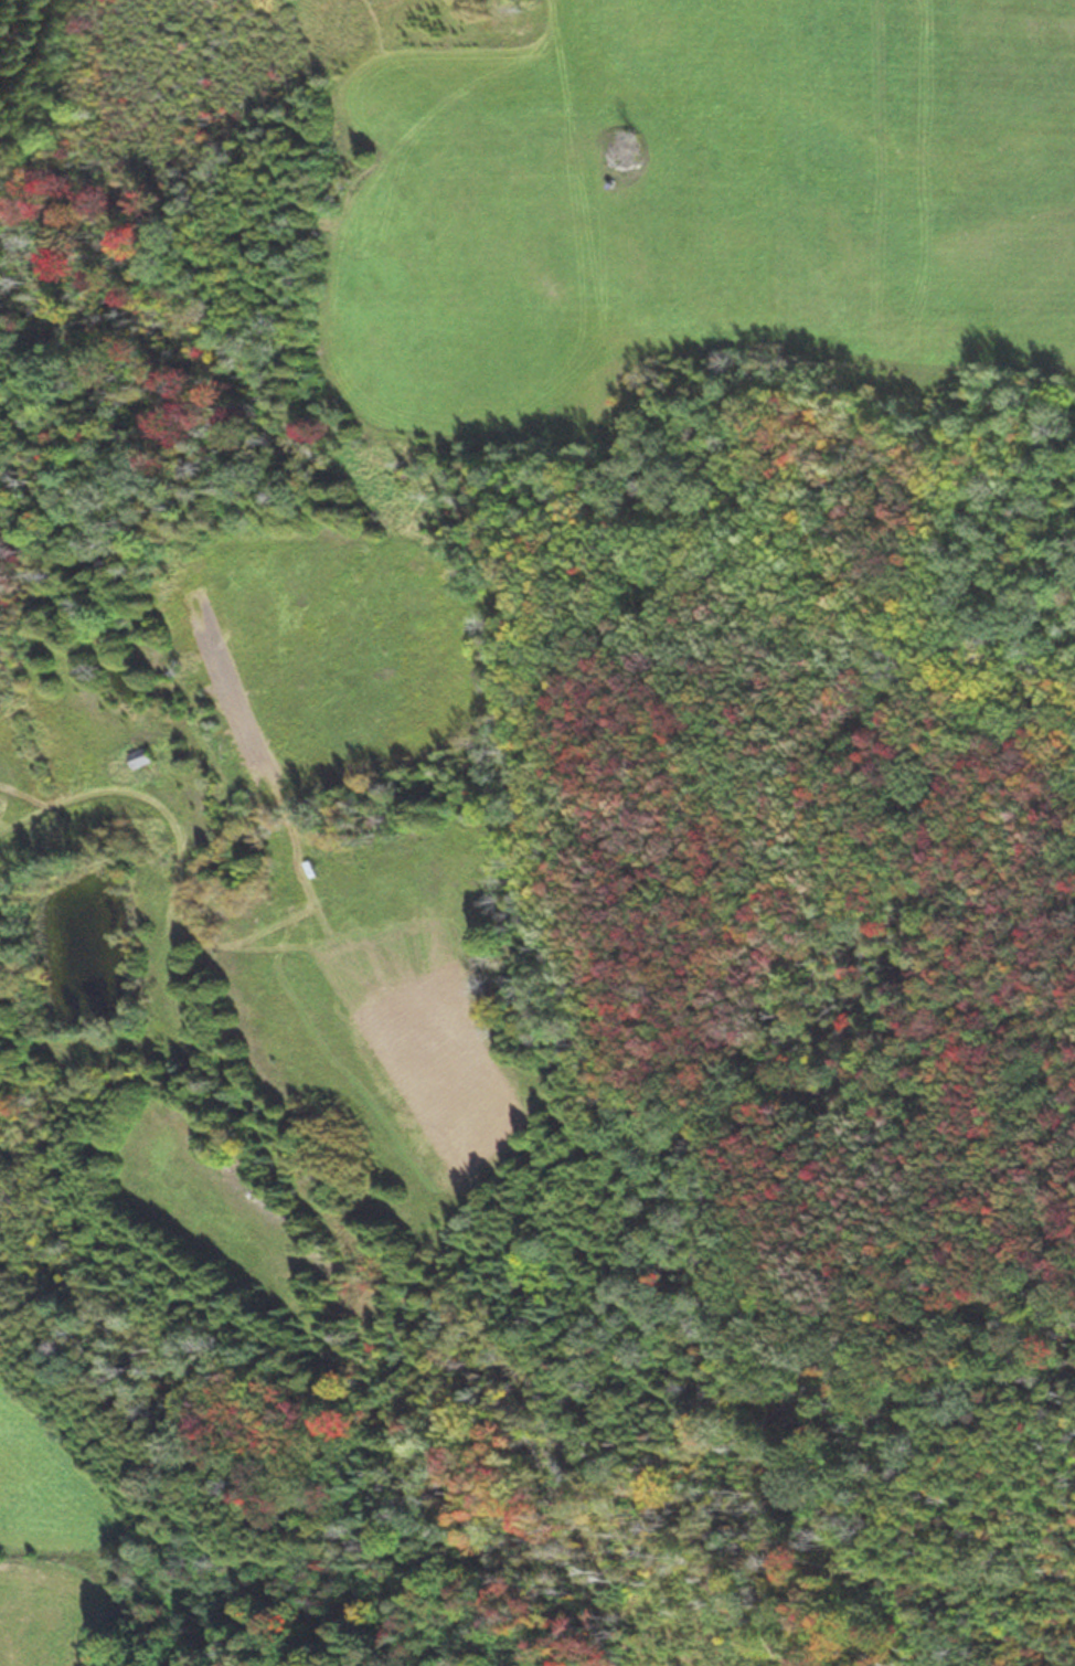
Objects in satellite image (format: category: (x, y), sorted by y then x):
building: (141, 758)
road: (35, 852)

